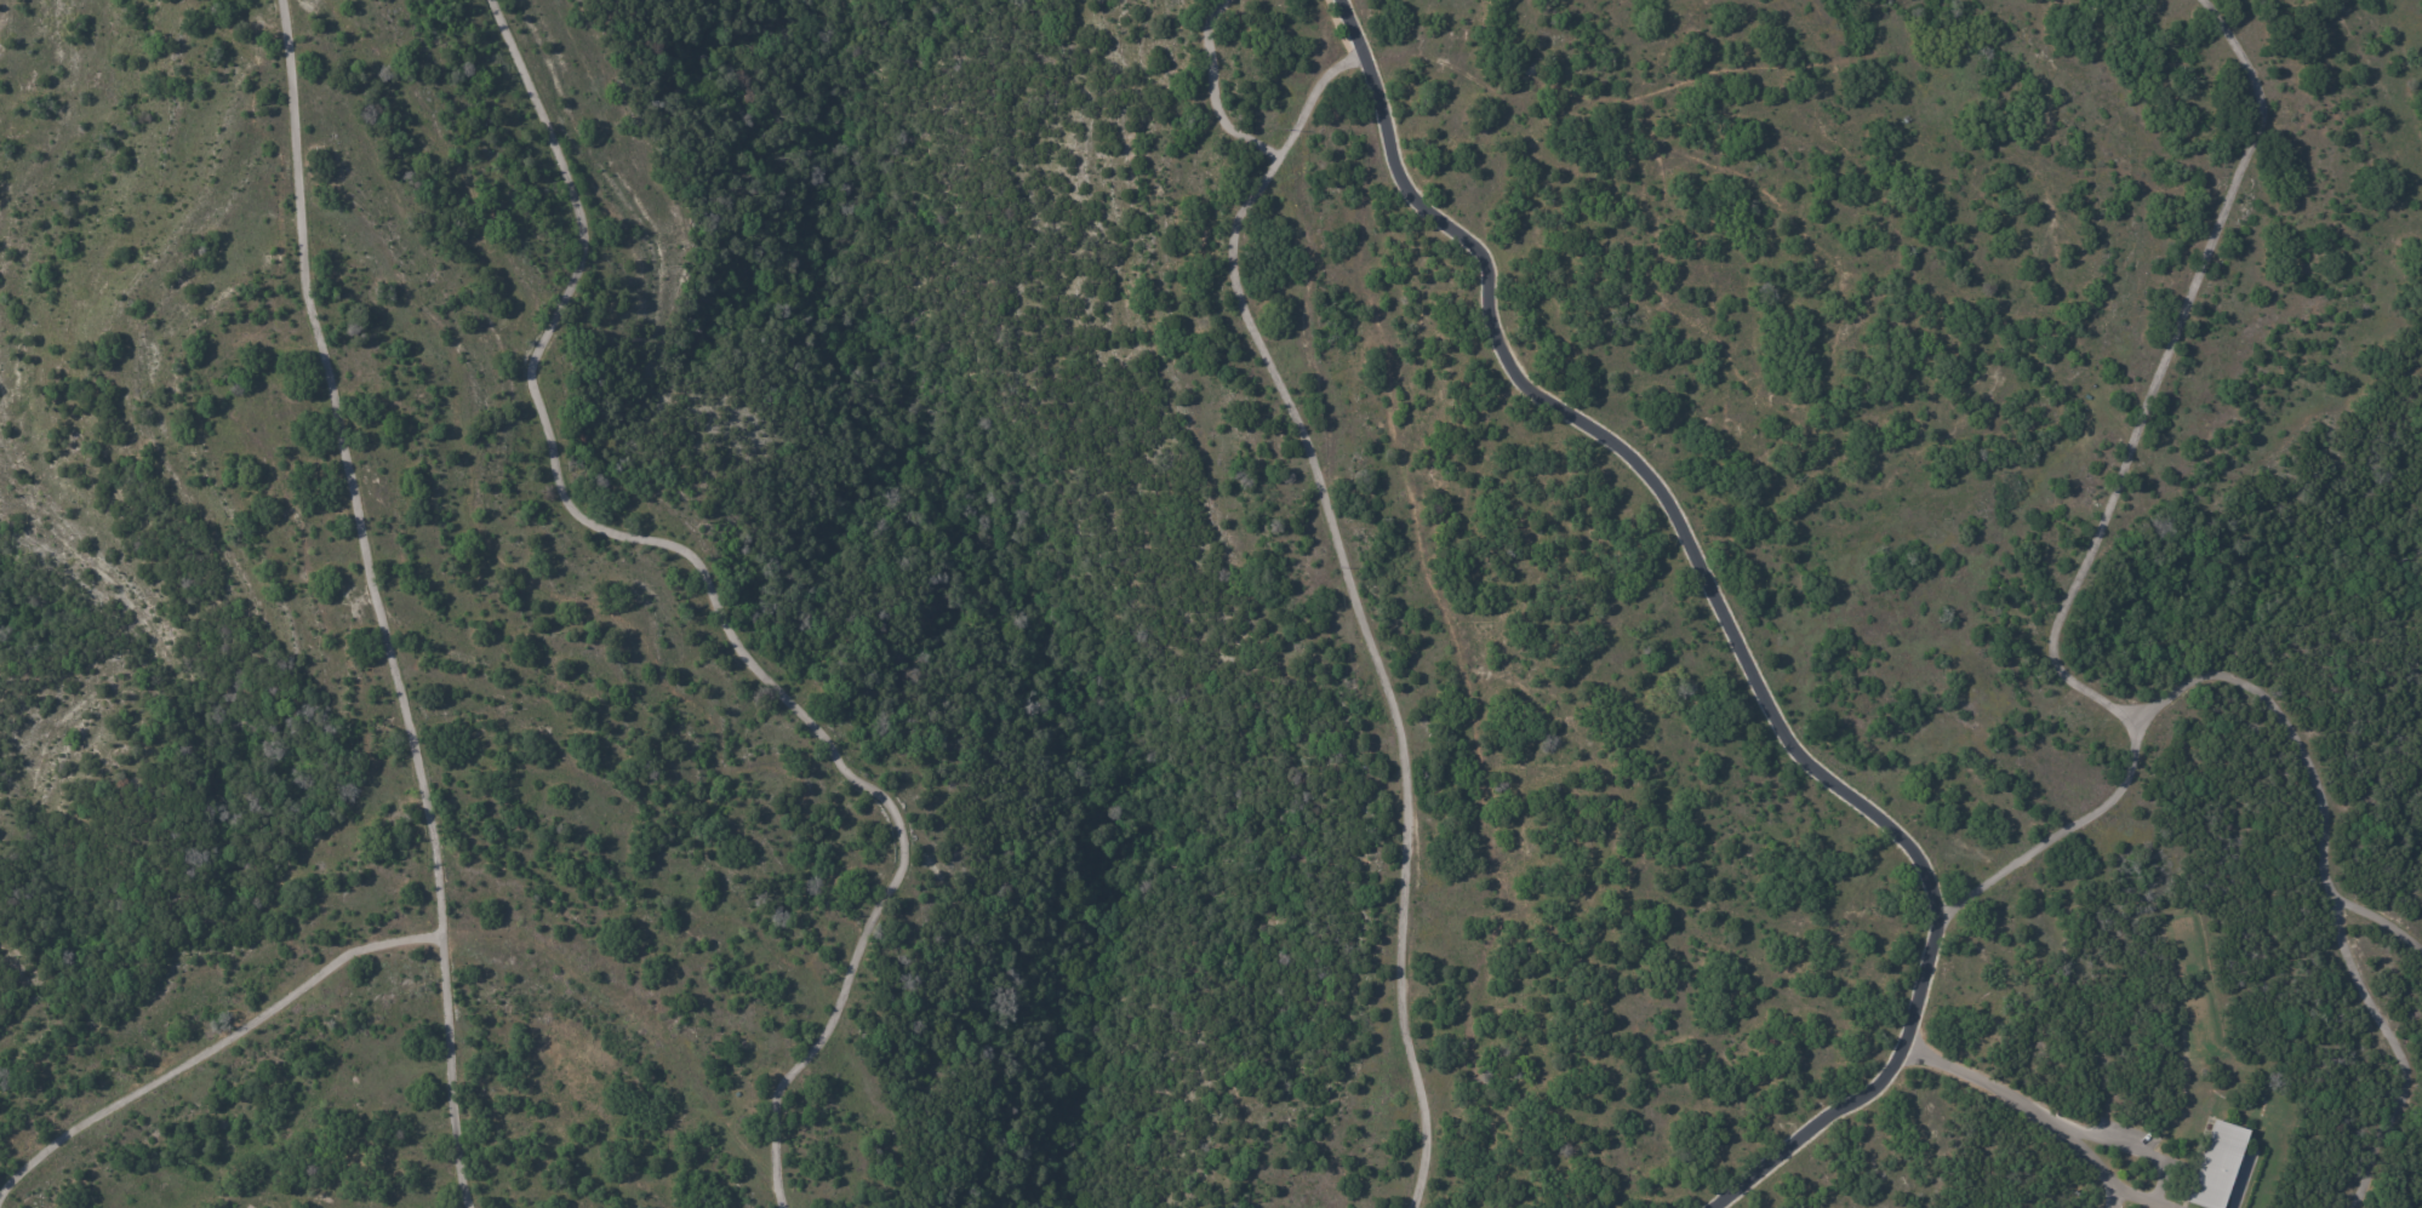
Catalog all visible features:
road: (2103, 514)
road: (1349, 572)
road: (1735, 646)
road: (2039, 1118)
building: (2212, 1166)

